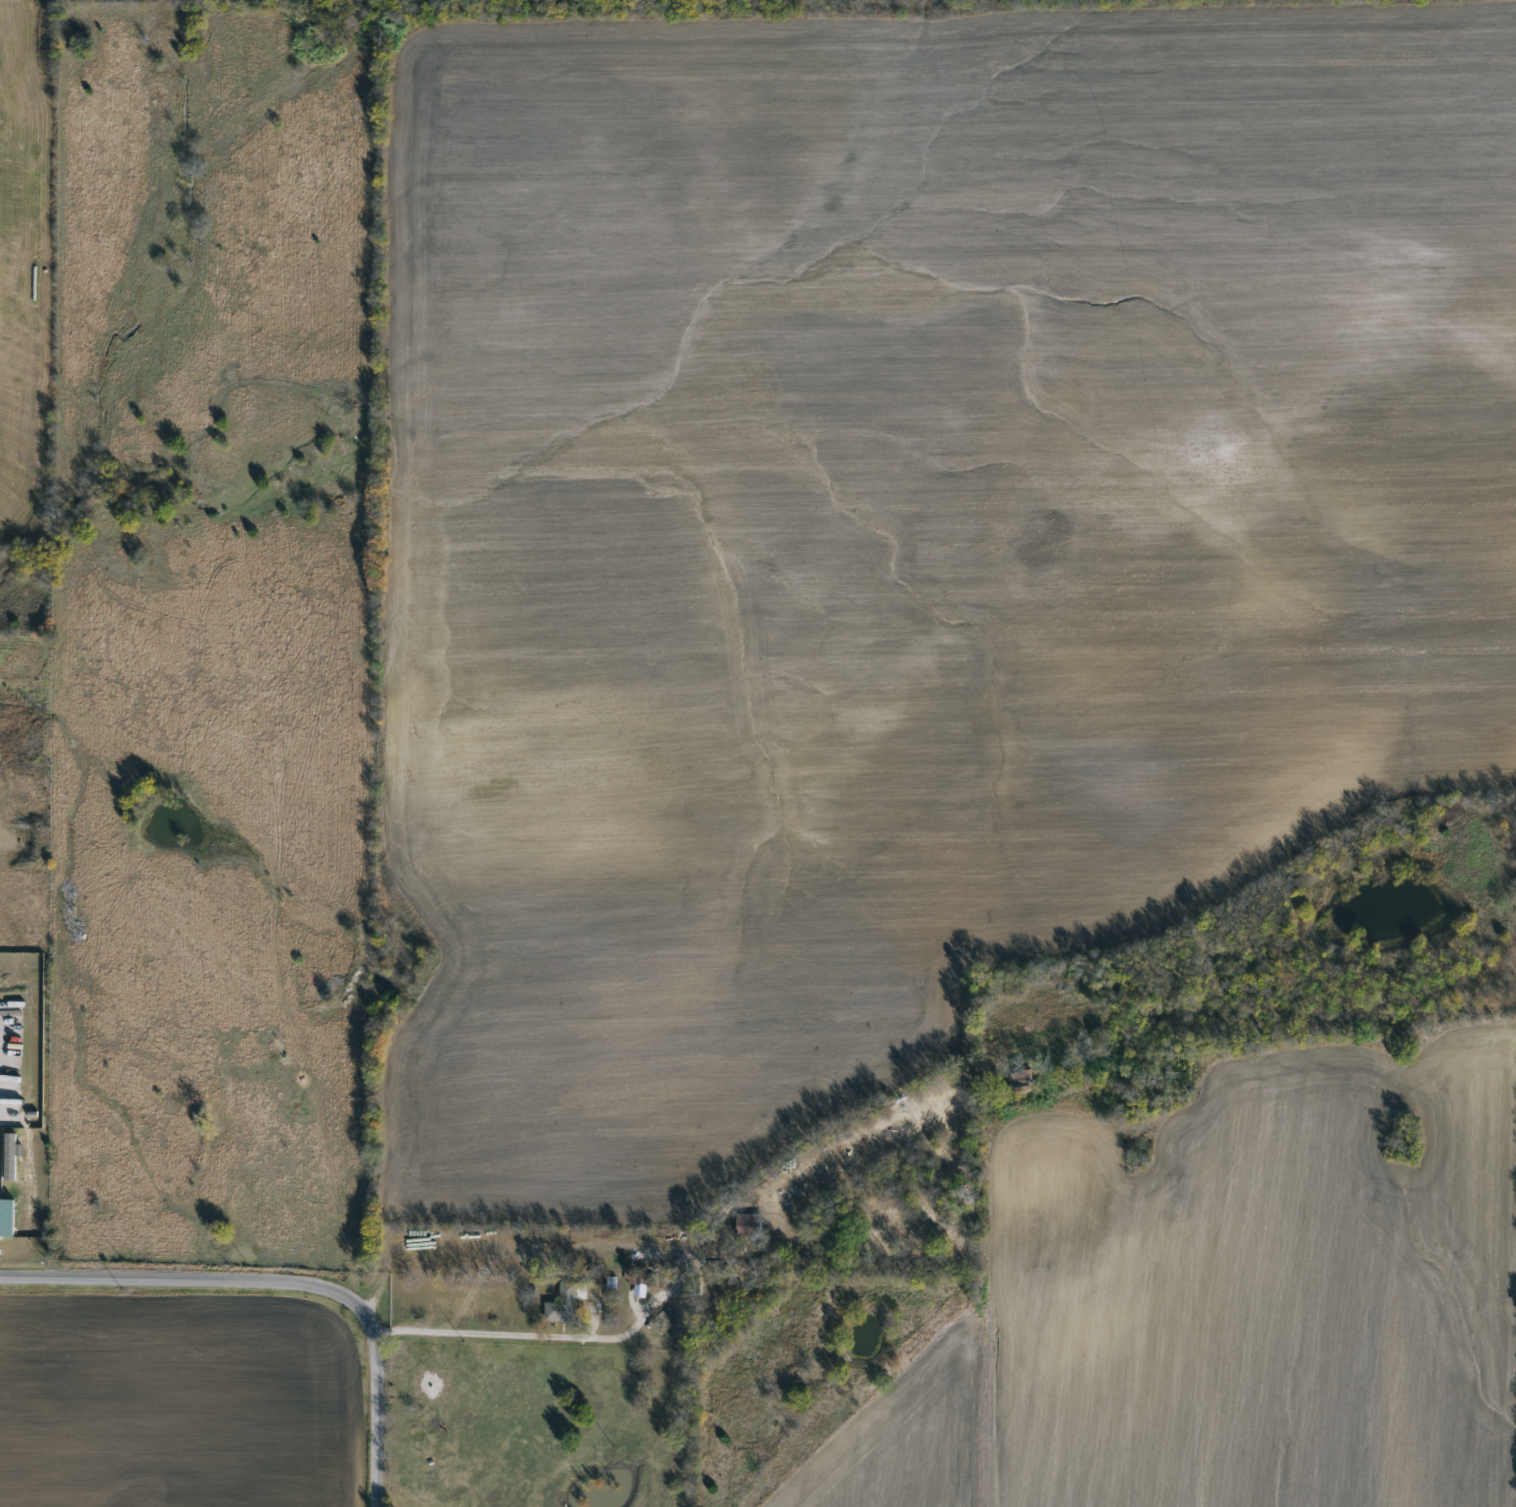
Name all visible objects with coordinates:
building: (6, 1218)
building: (745, 1227)
building: (638, 1283)
road: (284, 1291)
building: (559, 1305)
road: (499, 1334)

